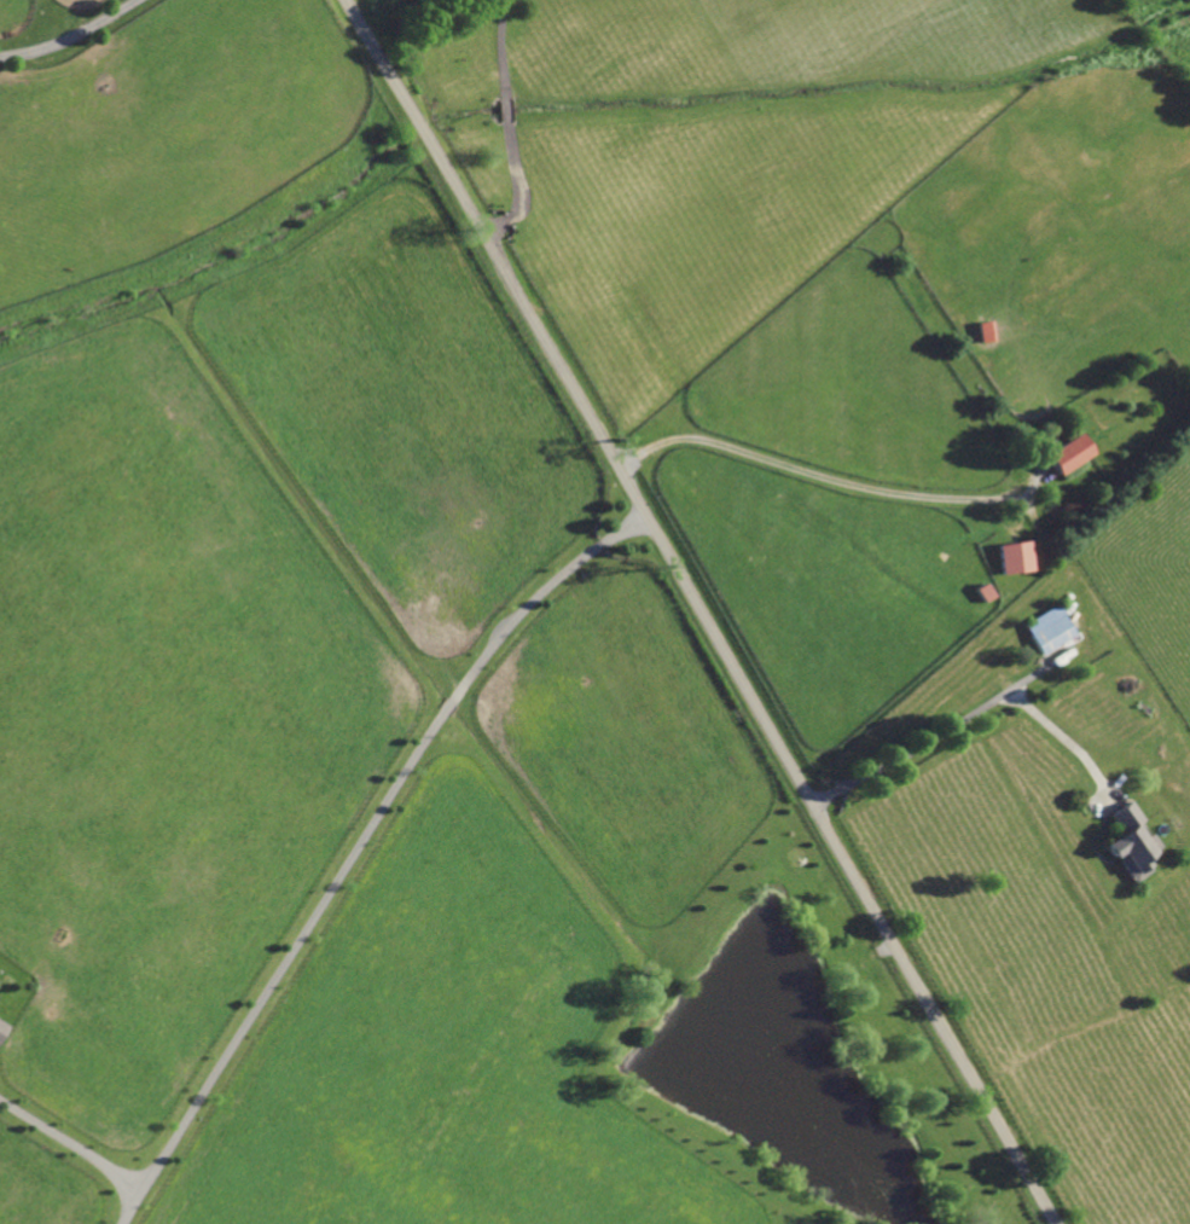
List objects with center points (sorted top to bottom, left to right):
road: (68, 36)
road: (501, 48)
road: (507, 111)
road: (518, 188)
building: (983, 330)
building: (1066, 456)
road: (826, 475)
building: (1014, 552)
building: (982, 588)
road: (702, 613)
building: (1047, 625)
road: (962, 714)
building: (1131, 840)
road: (354, 846)
building: (1, 1026)
road: (70, 1143)

